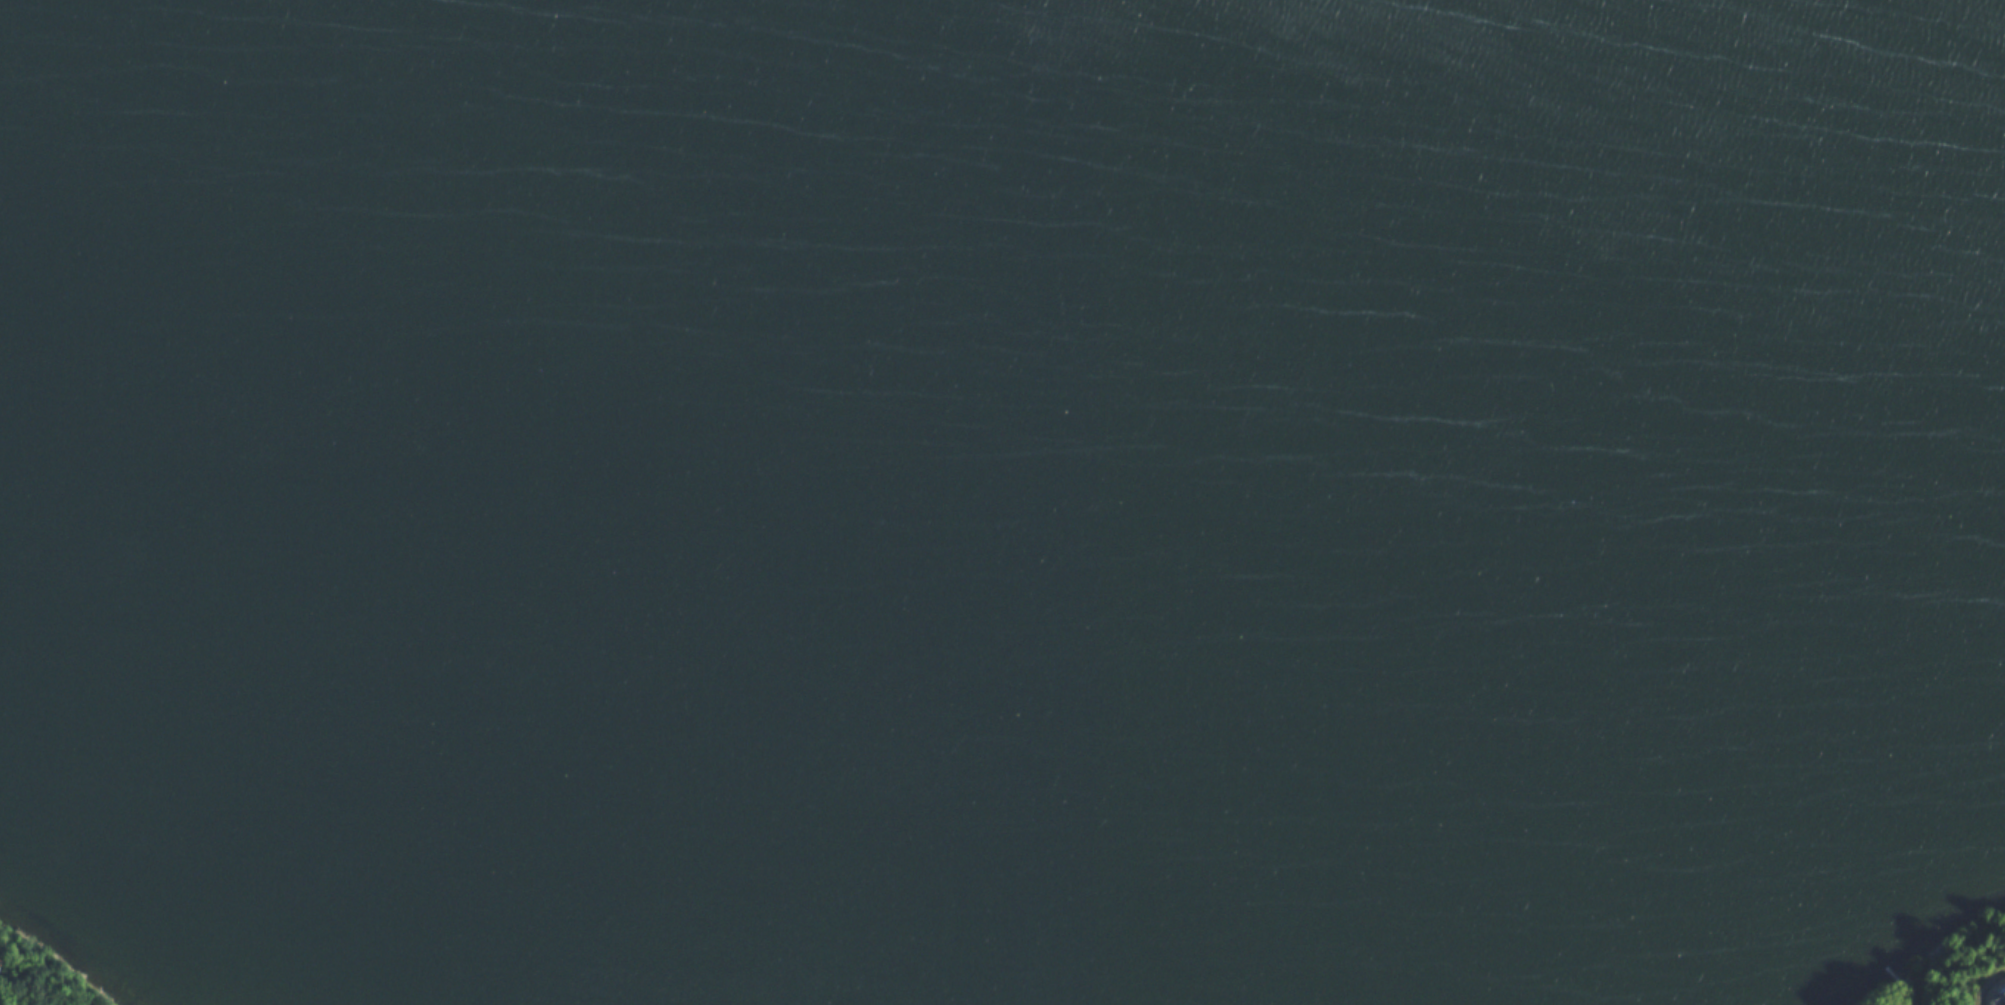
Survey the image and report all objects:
building: (2002, 990)

